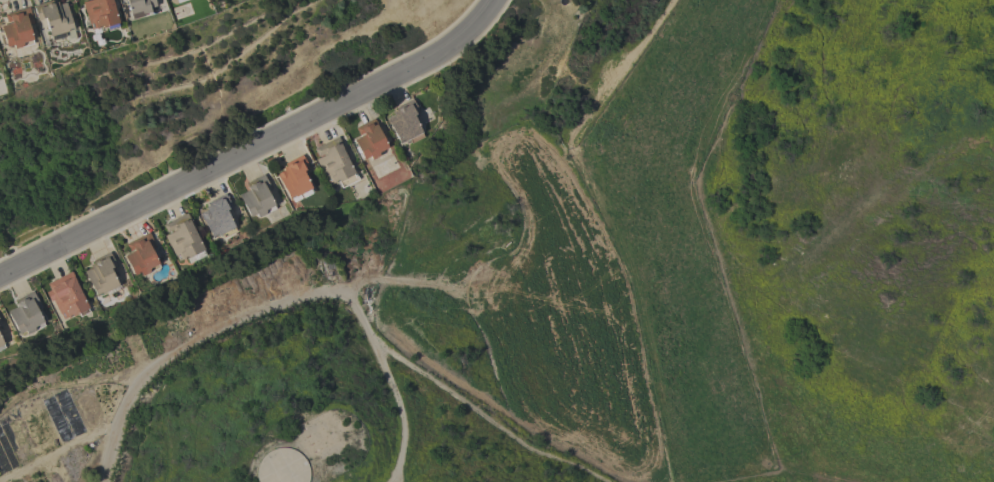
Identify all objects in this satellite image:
building: (120, 0)
building: (122, 0)
building: (174, 0)
building: (178, 1)
building: (139, 6)
building: (100, 14)
building: (54, 17)
building: (17, 28)
building: (405, 122)
building: (369, 140)
road: (254, 148)
building: (334, 162)
building: (294, 178)
building: (256, 197)
building: (218, 216)
building: (183, 238)
building: (141, 255)
building: (101, 274)
road: (413, 278)
building: (67, 296)
building: (25, 314)
building: (1, 345)
road: (387, 382)
road: (480, 416)
building: (282, 466)

